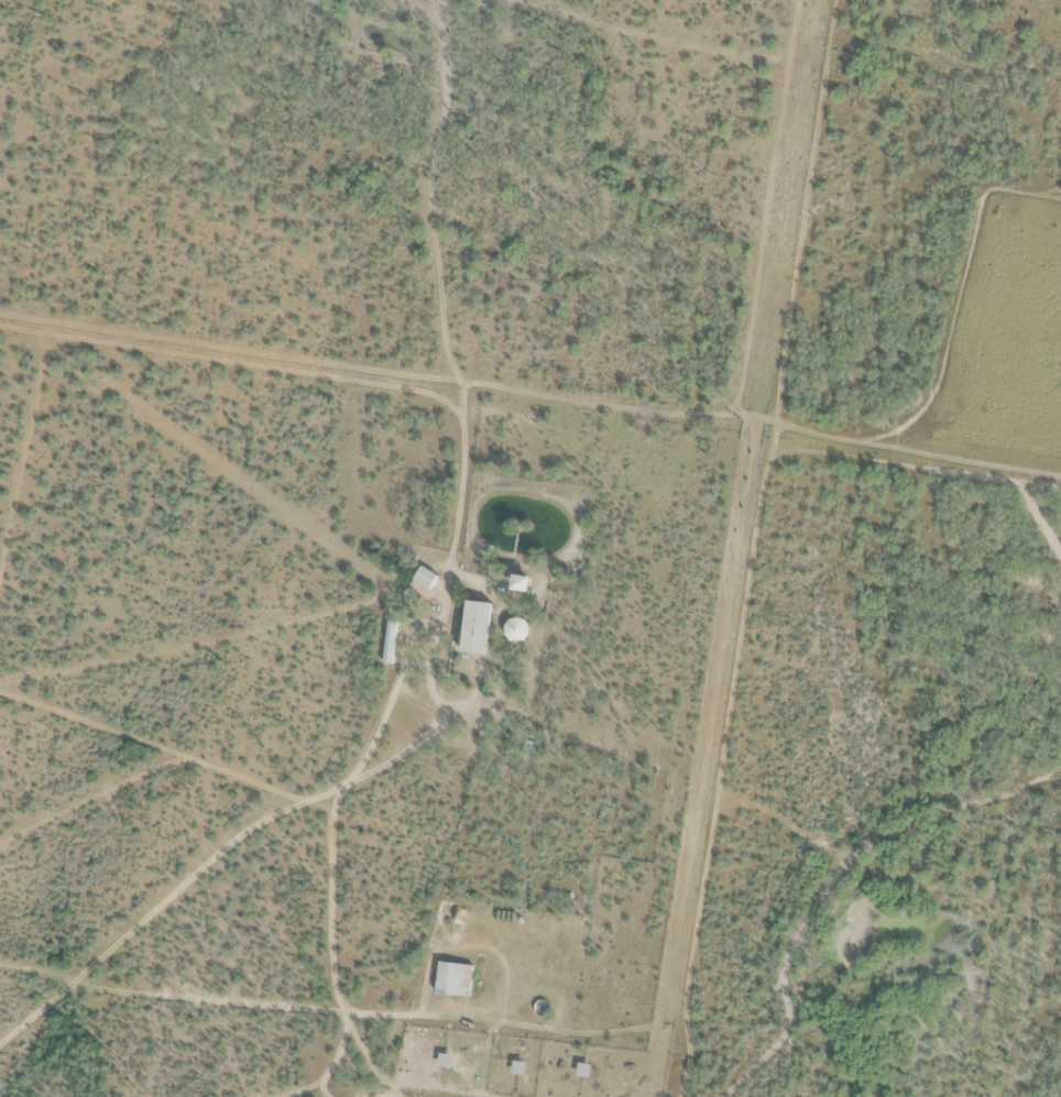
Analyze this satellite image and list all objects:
building: (424, 577)
building: (519, 582)
building: (474, 627)
building: (515, 630)
building: (387, 641)
building: (453, 979)
road: (307, 994)

